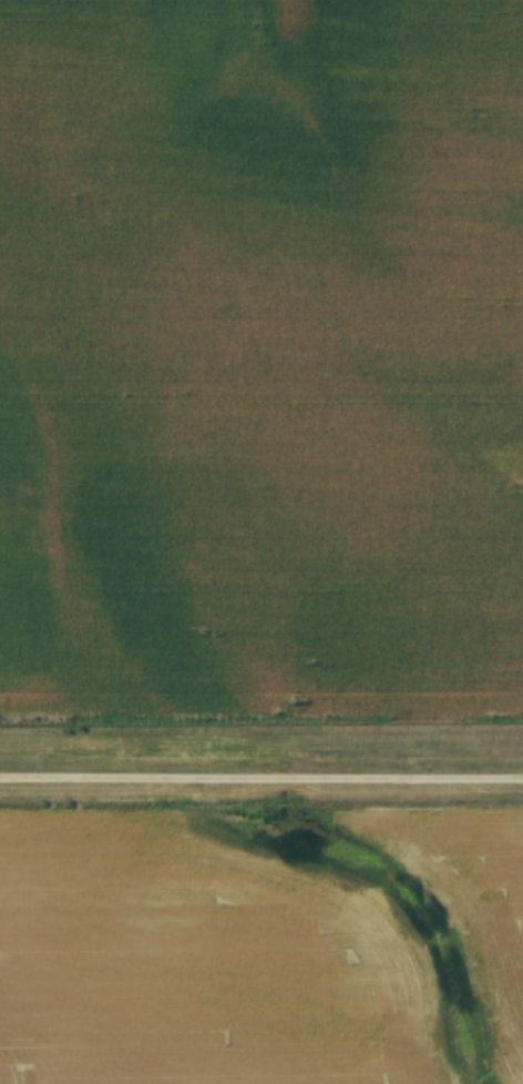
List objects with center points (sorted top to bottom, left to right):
road: (261, 778)

